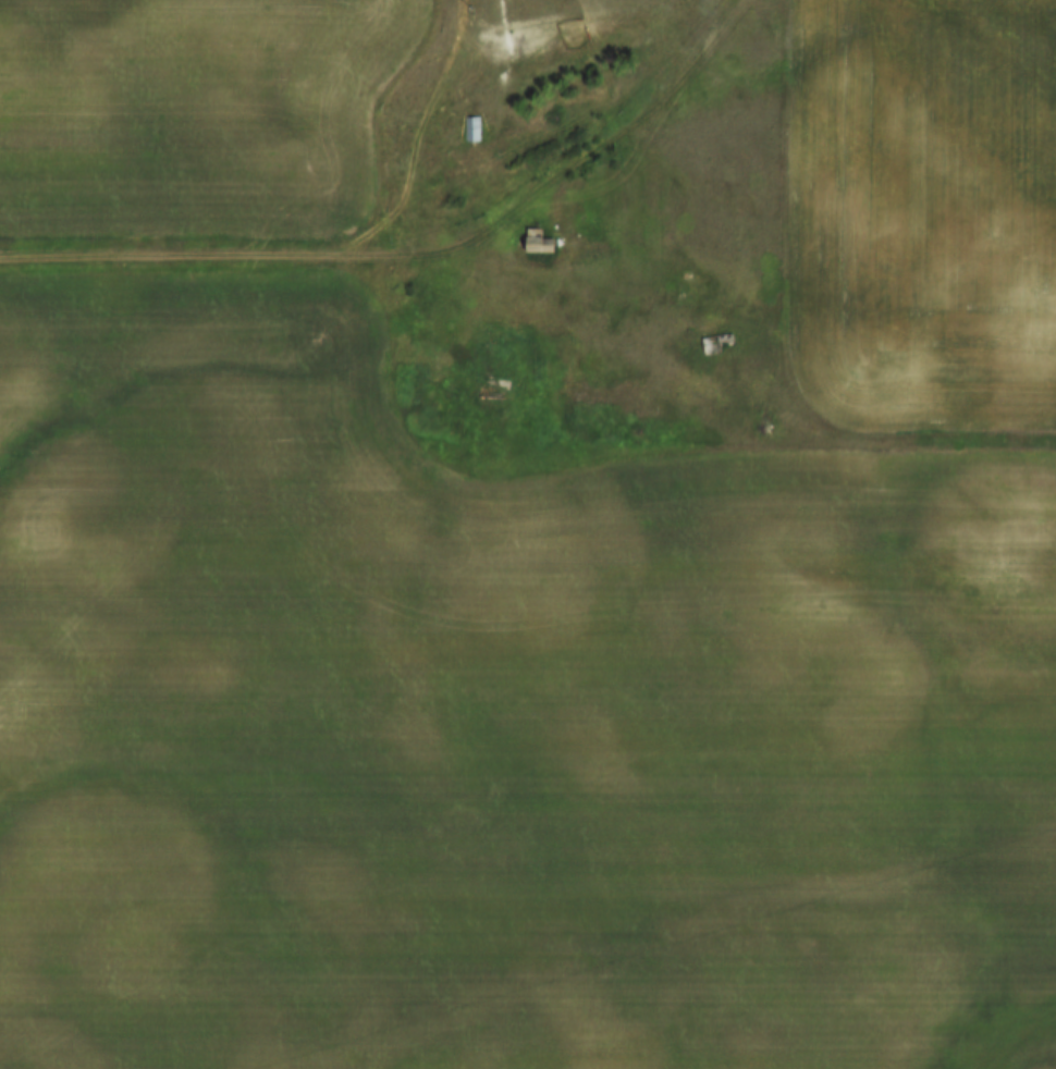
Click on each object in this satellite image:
building: (470, 131)
building: (537, 245)
road: (417, 256)

